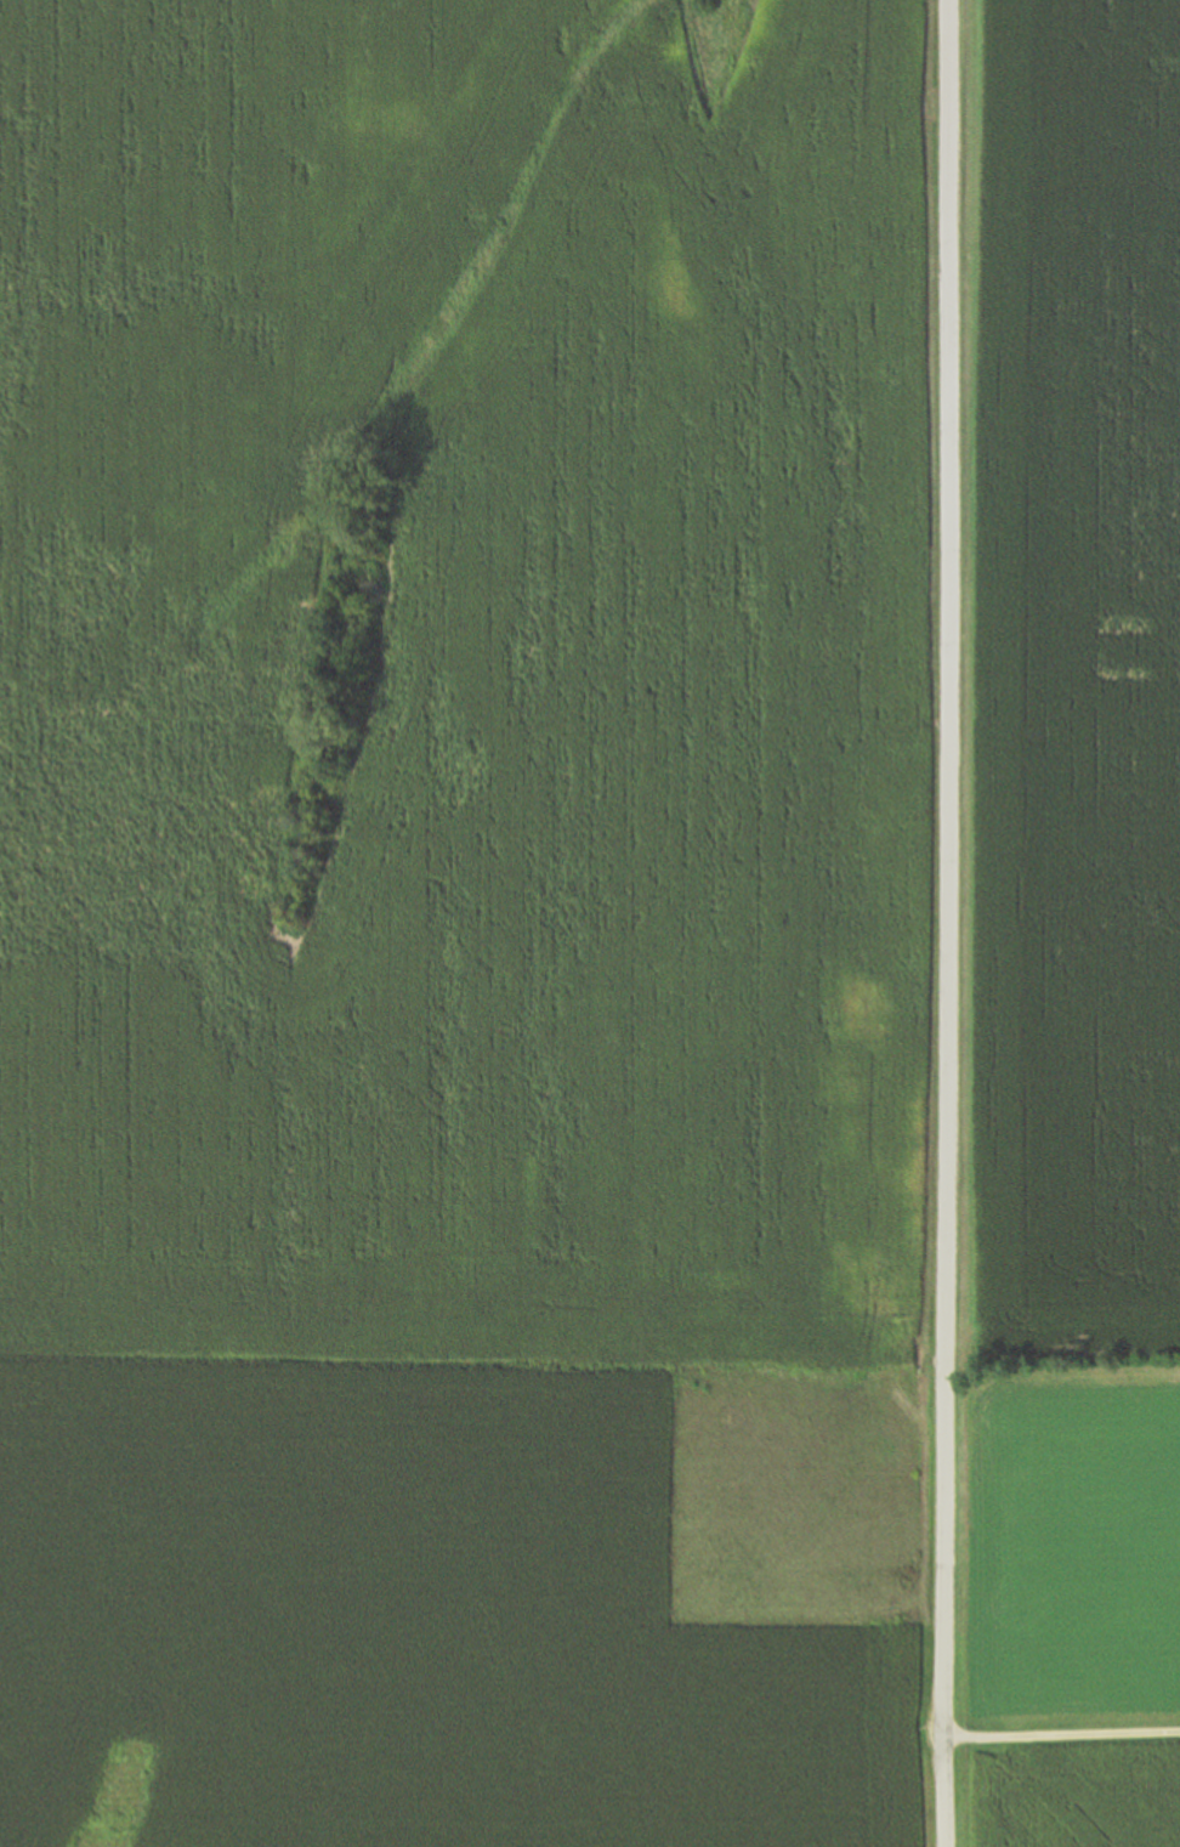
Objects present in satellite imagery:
road: (952, 923)
road: (1063, 1738)

